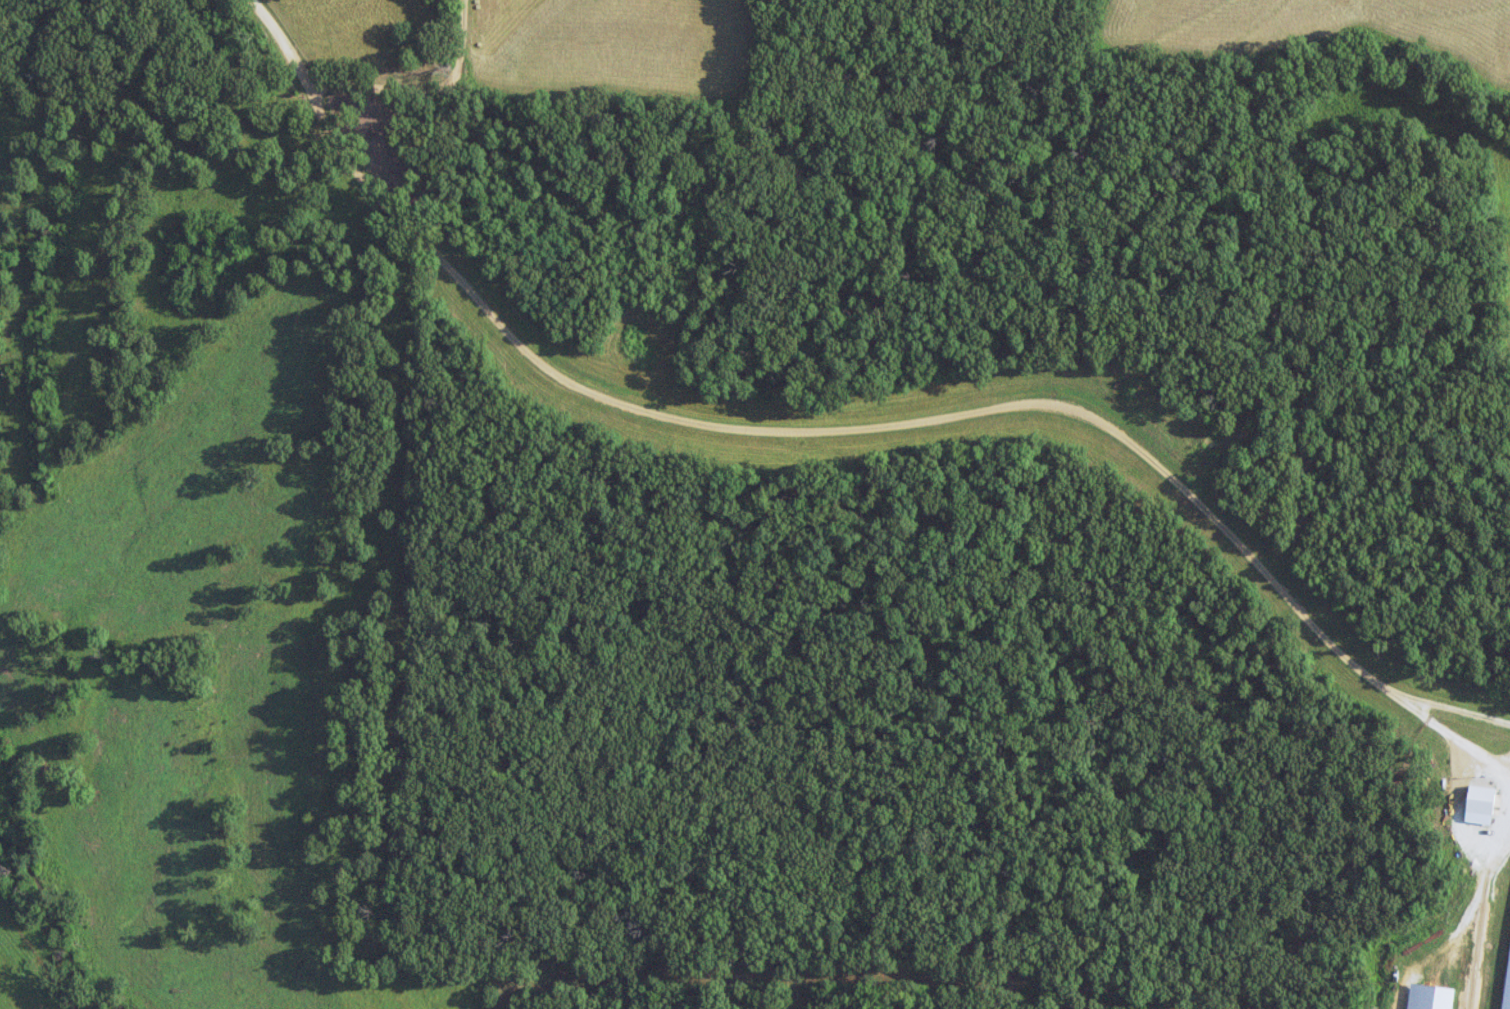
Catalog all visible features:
road: (850, 441)
building: (1479, 800)

